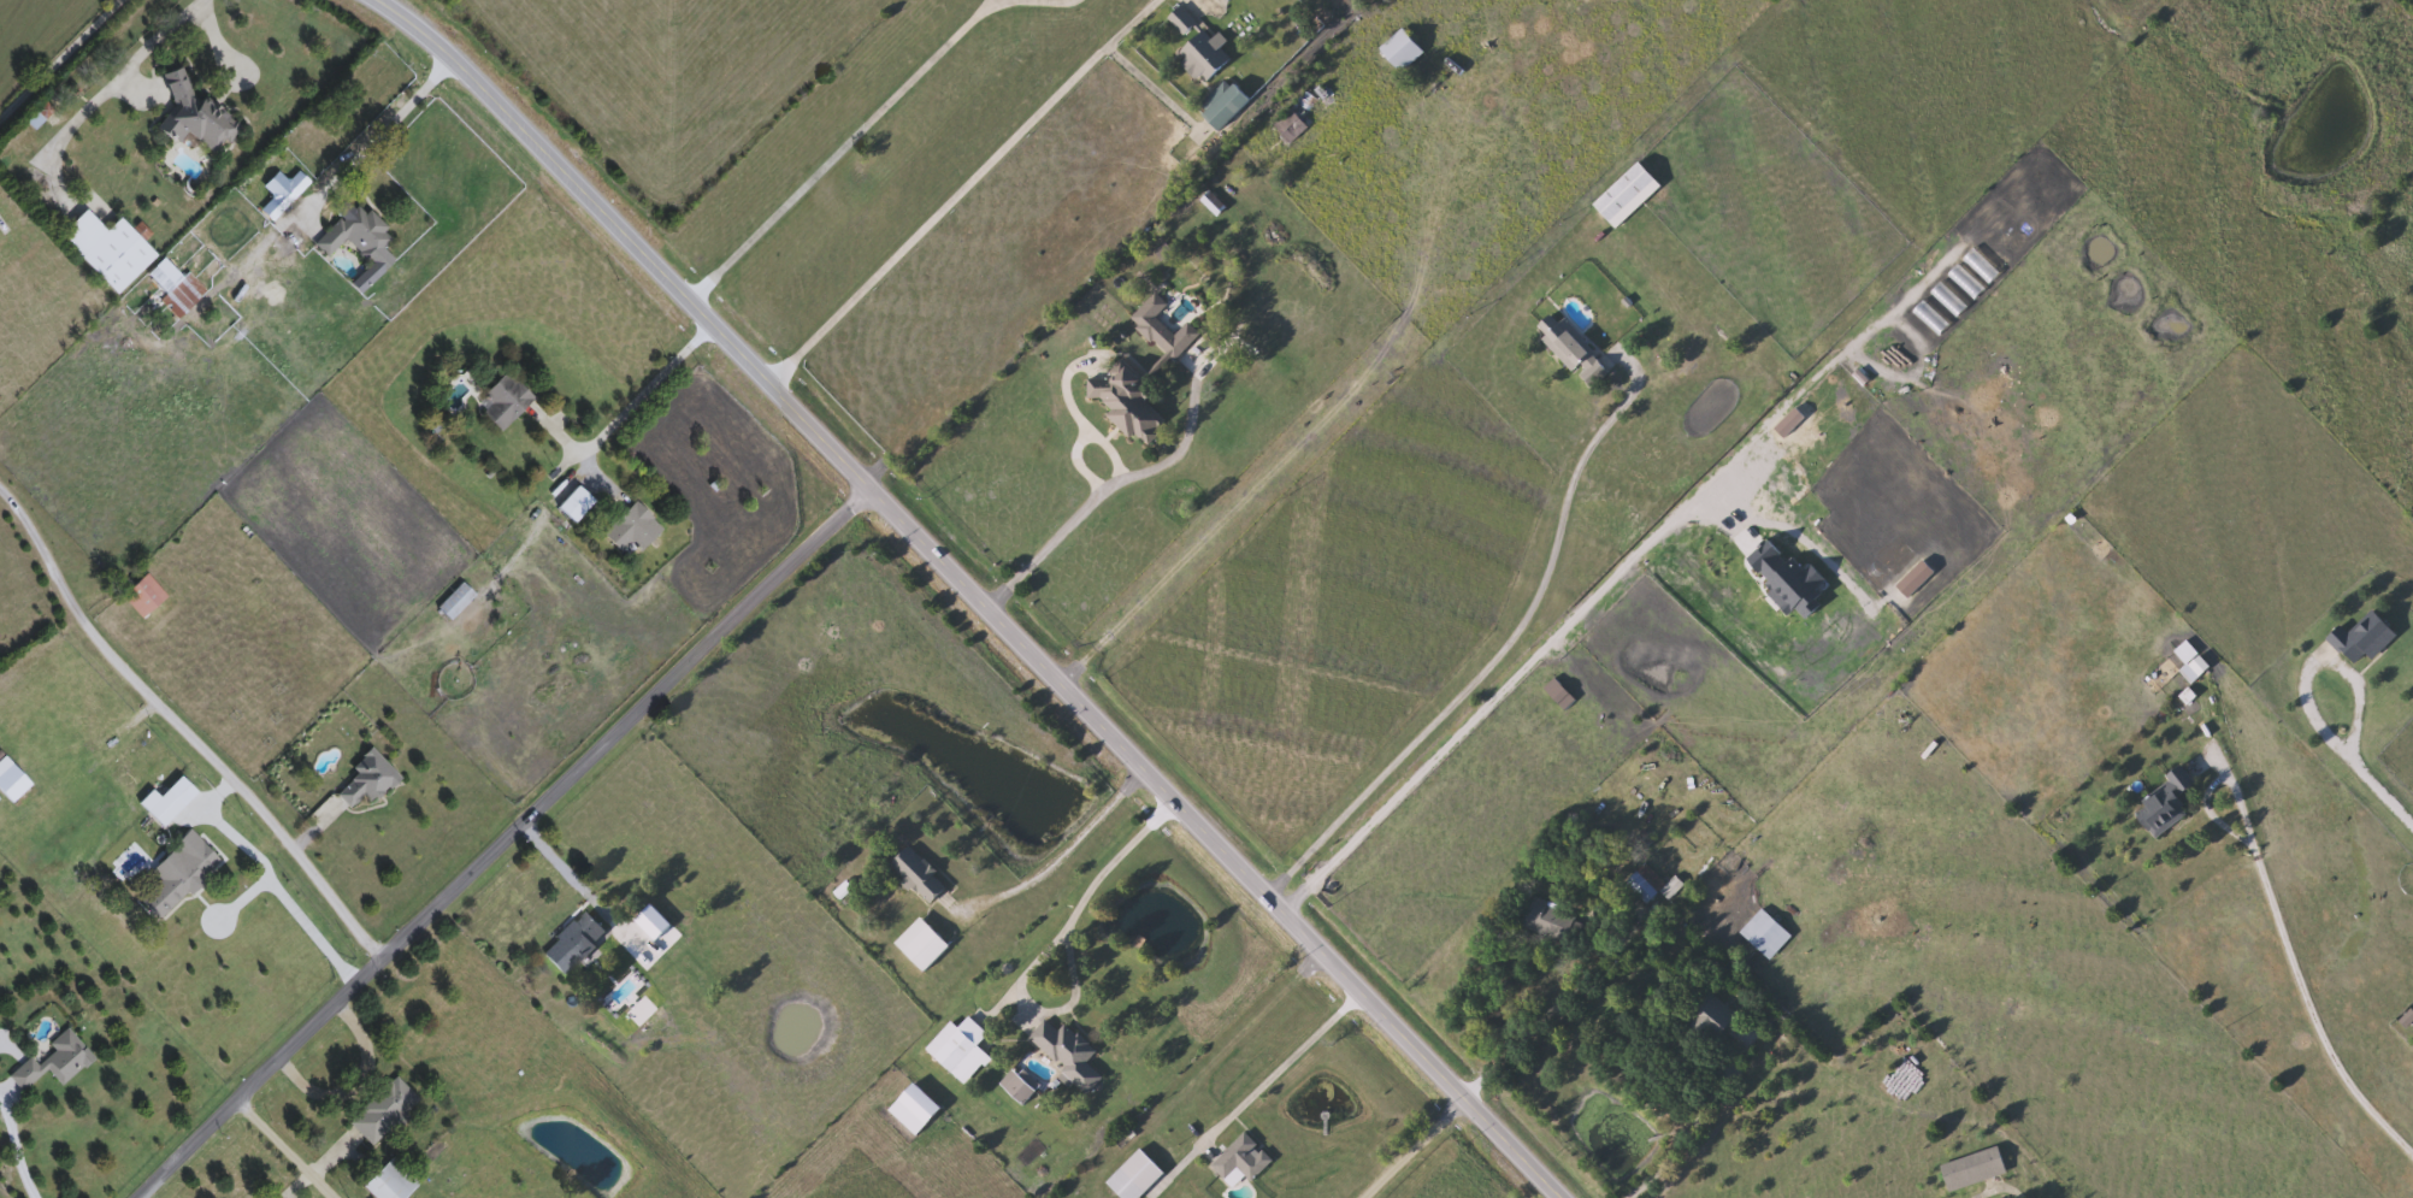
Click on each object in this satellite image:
building: (1232, 0)
building: (1202, 48)
building: (1405, 54)
road: (59, 59)
road: (112, 78)
building: (1226, 106)
building: (196, 114)
building: (1303, 117)
road: (374, 137)
road: (839, 149)
building: (1630, 197)
road: (940, 208)
building: (359, 235)
building: (108, 252)
building: (188, 295)
building: (1155, 327)
building: (1575, 350)
road: (647, 390)
building: (507, 402)
building: (1128, 402)
road: (1103, 489)
building: (578, 506)
building: (636, 530)
road: (969, 591)
building: (147, 597)
building: (458, 602)
building: (2365, 639)
road: (2319, 656)
road: (1482, 667)
building: (2196, 671)
road: (1492, 696)
road: (181, 726)
building: (370, 781)
building: (16, 784)
road: (2379, 789)
building: (171, 803)
building: (2167, 804)
road: (2208, 813)
road: (500, 839)
road: (555, 872)
building: (920, 875)
road: (1098, 875)
building: (183, 877)
building: (1645, 884)
building: (1675, 889)
building: (667, 913)
building: (1552, 922)
road: (314, 928)
building: (1769, 936)
building: (576, 944)
building: (925, 946)
road: (2297, 973)
building: (1712, 1016)
building: (2409, 1021)
road: (1532, 1031)
building: (960, 1055)
building: (1070, 1055)
building: (58, 1062)
road: (1282, 1067)
road: (355, 1078)
building: (916, 1110)
building: (388, 1113)
road: (1698, 1121)
road: (284, 1147)
road: (1411, 1147)
road: (11, 1161)
building: (1244, 1162)
building: (1976, 1169)
building: (1138, 1178)
building: (394, 1182)

